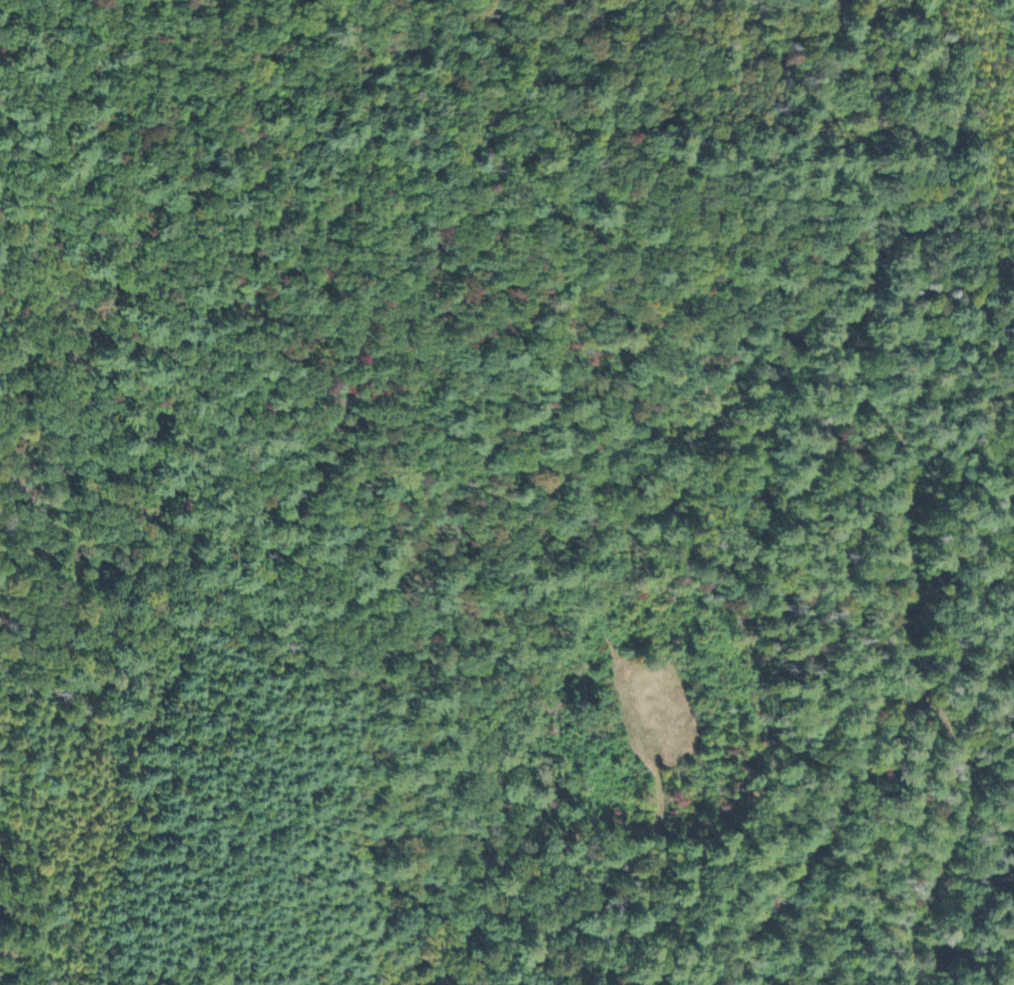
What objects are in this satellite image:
road: (651, 812)

